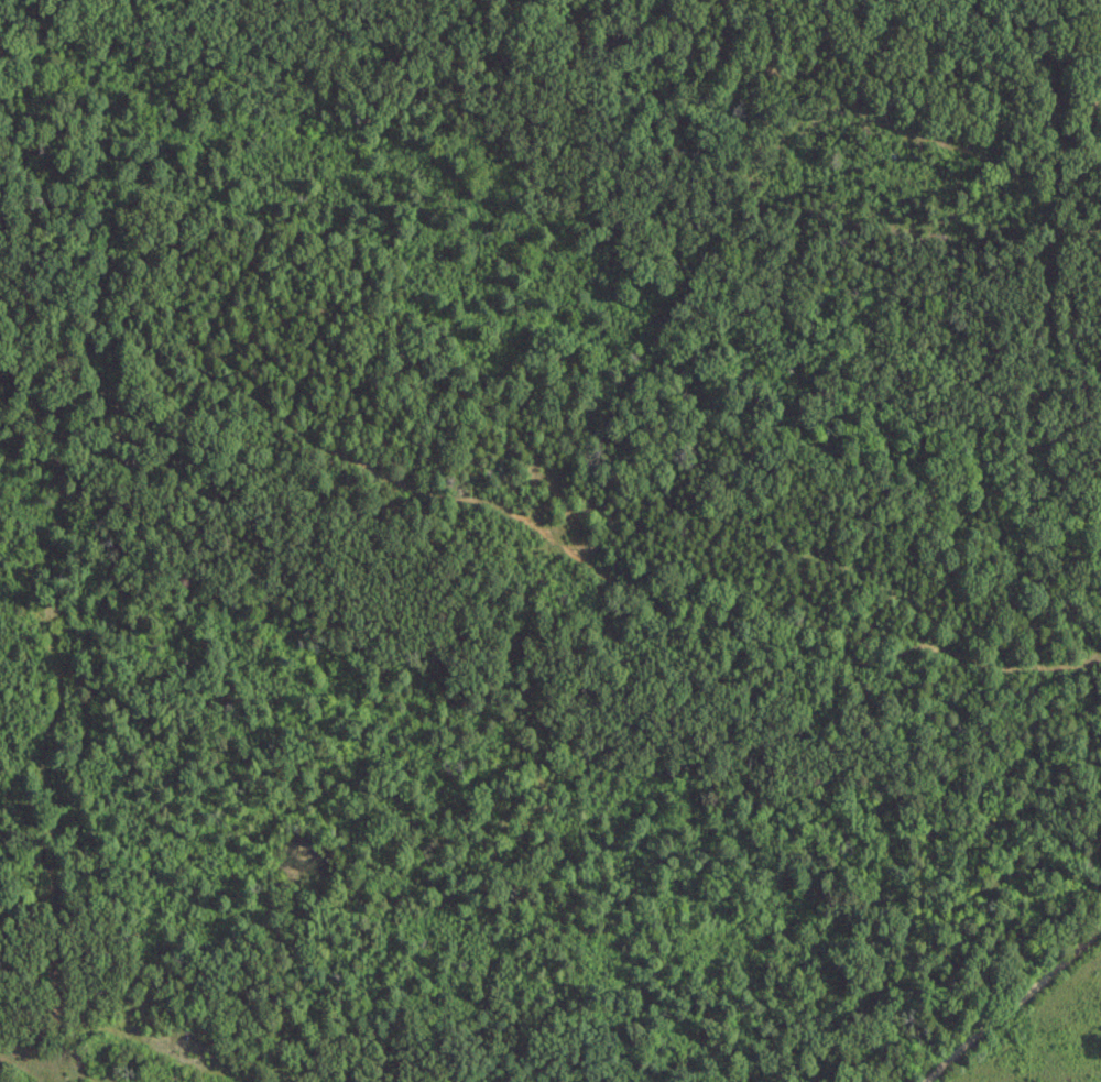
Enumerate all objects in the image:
road: (994, 977)

